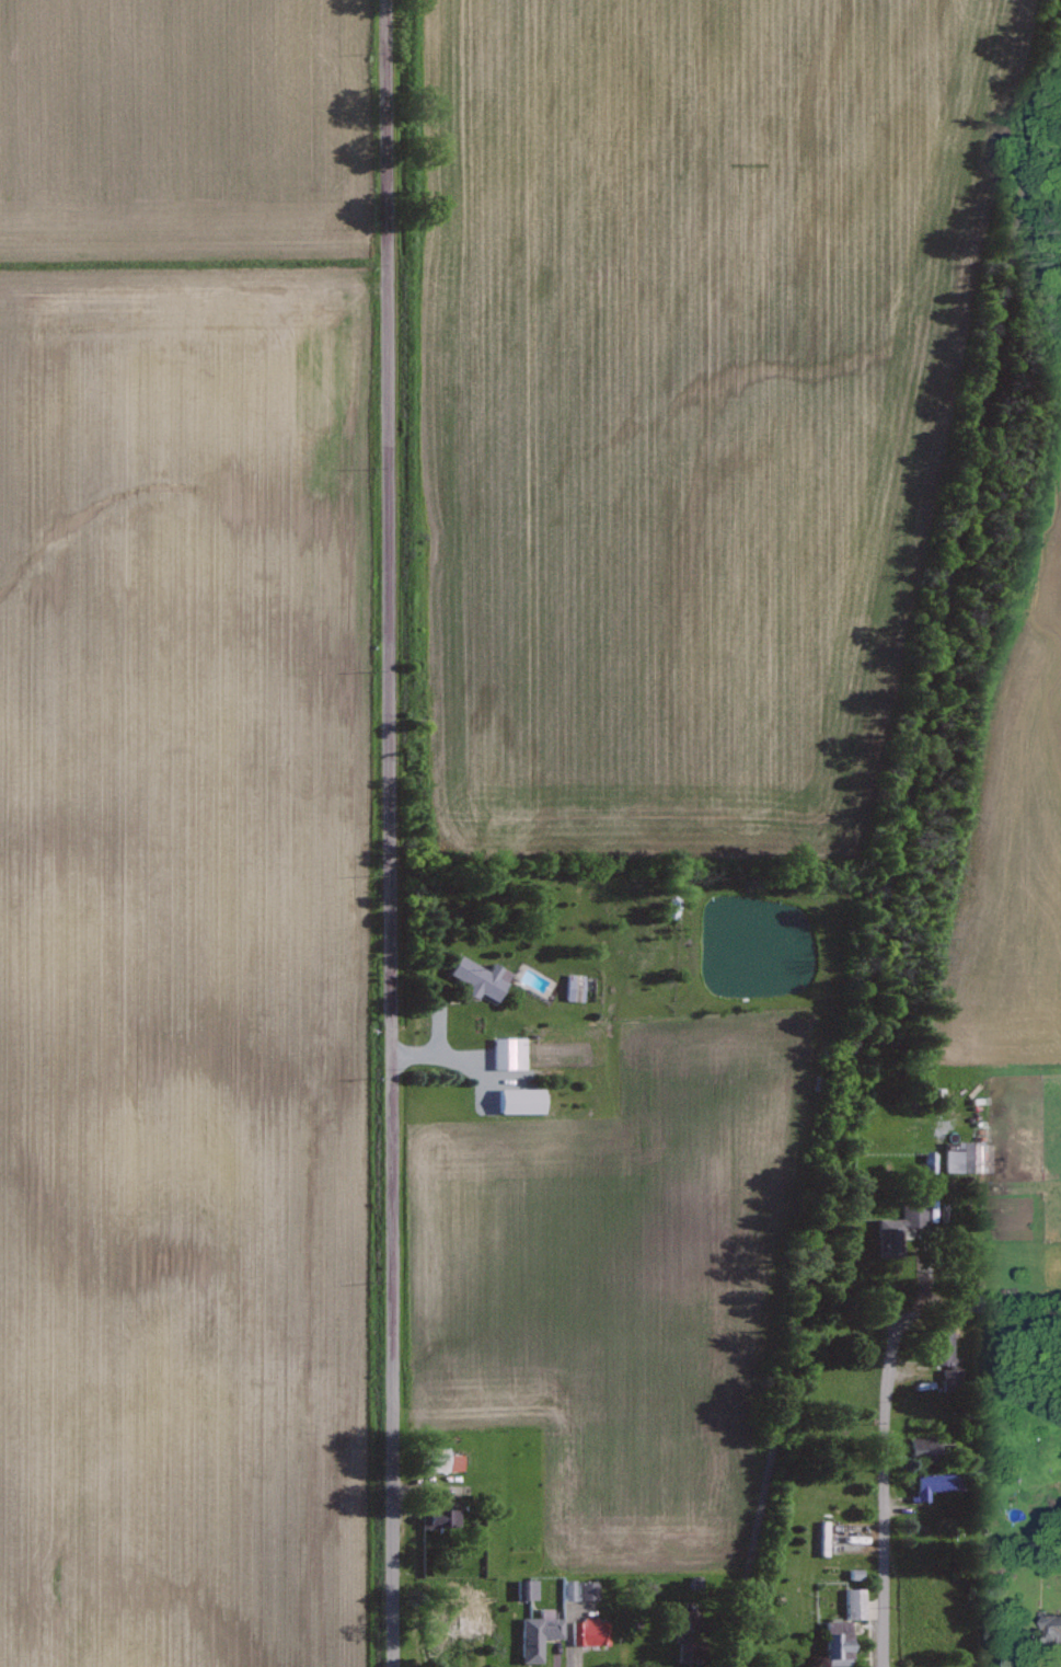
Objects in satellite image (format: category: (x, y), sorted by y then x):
crop: (688, 400)
road: (388, 832)
crop: (191, 839)
crop: (1015, 841)
road: (895, 842)
building: (485, 977)
building: (578, 986)
building: (512, 1051)
building: (524, 1100)
building: (934, 1161)
building: (904, 1230)
road: (923, 1274)
building: (955, 1379)
building: (926, 1448)
building: (941, 1483)
road: (883, 1485)
building: (443, 1518)
building: (858, 1573)
building: (529, 1588)
building: (573, 1589)
building: (591, 1589)
building: (858, 1602)
building: (474, 1624)
building: (1058, 1625)
building: (592, 1631)
building: (541, 1634)
building: (842, 1643)

